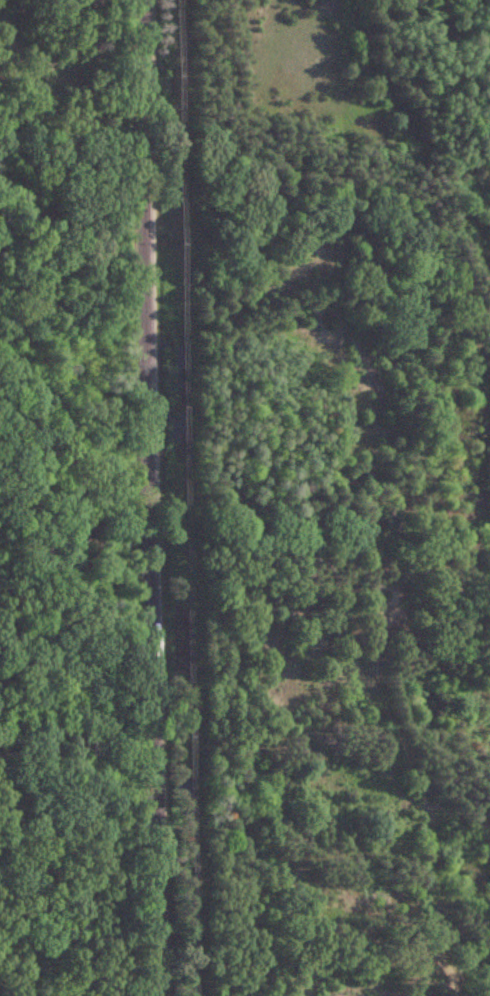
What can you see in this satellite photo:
road: (149, 497)

